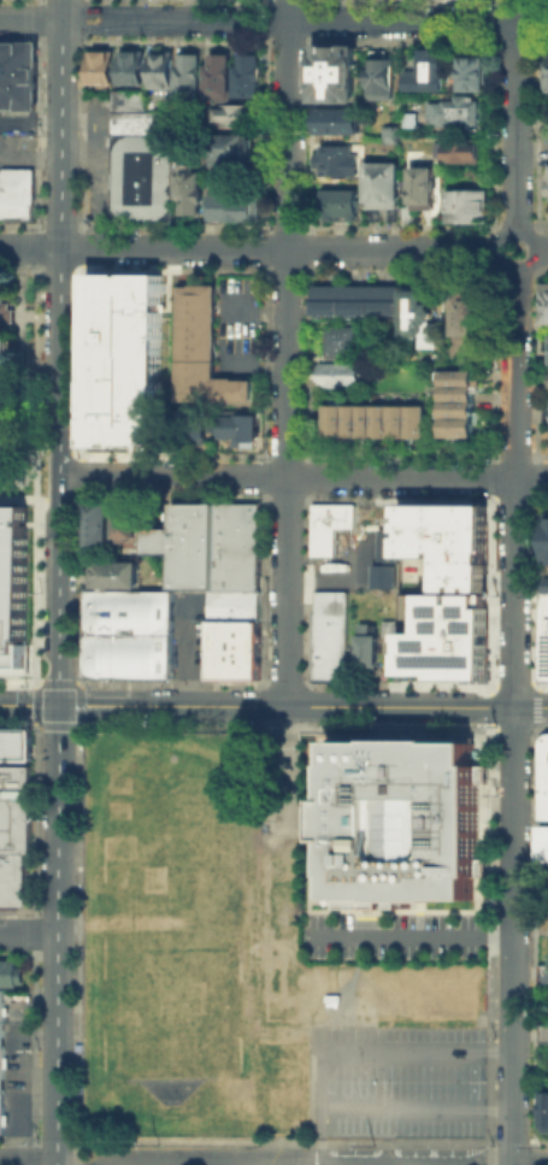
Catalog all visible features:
road: (89, 10)
road: (342, 10)
road: (519, 11)
road: (30, 18)
road: (331, 20)
road: (89, 29)
building: (20, 53)
building: (104, 66)
building: (134, 66)
building: (164, 69)
building: (546, 70)
building: (341, 71)
building: (472, 71)
building: (428, 73)
building: (190, 75)
building: (251, 75)
building: (220, 76)
building: (384, 78)
building: (20, 87)
building: (132, 100)
building: (455, 113)
building: (236, 114)
building: (342, 122)
road: (30, 124)
road: (517, 124)
building: (391, 133)
building: (232, 148)
building: (461, 149)
road: (53, 154)
road: (106, 165)
building: (146, 165)
building: (341, 165)
building: (387, 183)
building: (423, 189)
building: (191, 190)
building: (17, 192)
building: (340, 205)
building: (465, 205)
building: (236, 207)
road: (517, 228)
road: (30, 245)
road: (277, 246)
road: (542, 248)
building: (360, 304)
building: (546, 304)
road: (261, 305)
building: (6, 313)
building: (418, 313)
building: (470, 314)
parking lot: (237, 325)
building: (341, 340)
building: (547, 348)
building: (206, 351)
road: (59, 352)
road: (287, 353)
building: (126, 357)
road: (261, 363)
building: (342, 375)
building: (456, 402)
building: (14, 410)
building: (373, 422)
building: (240, 426)
building: (193, 429)
road: (29, 475)
road: (302, 475)
building: (128, 522)
building: (229, 524)
building: (251, 524)
building: (101, 525)
building: (332, 526)
building: (446, 541)
building: (547, 541)
building: (191, 545)
building: (383, 559)
building: (240, 567)
building: (116, 575)
building: (547, 586)
building: (14, 589)
building: (237, 606)
building: (389, 628)
building: (95, 635)
building: (113, 635)
building: (130, 635)
building: (148, 635)
building: (165, 635)
building: (332, 636)
building: (446, 637)
building: (252, 639)
building: (544, 641)
building: (228, 642)
building: (366, 645)
road: (188, 652)
building: (251, 667)
building: (224, 669)
traffic signals: (58, 706)
road: (273, 706)
road: (514, 716)
building: (16, 746)
building: (542, 777)
building: (396, 824)
building: (13, 835)
building: (543, 842)
road: (28, 932)
parking lot: (393, 934)
road: (57, 935)
road: (413, 936)
park: (284, 947)
building: (11, 972)
building: (542, 973)
building: (1, 1059)
road: (317, 1081)
parking lot: (399, 1082)
building: (544, 1112)
road: (317, 1136)
road: (28, 1161)
road: (284, 1163)
road: (530, 1163)

